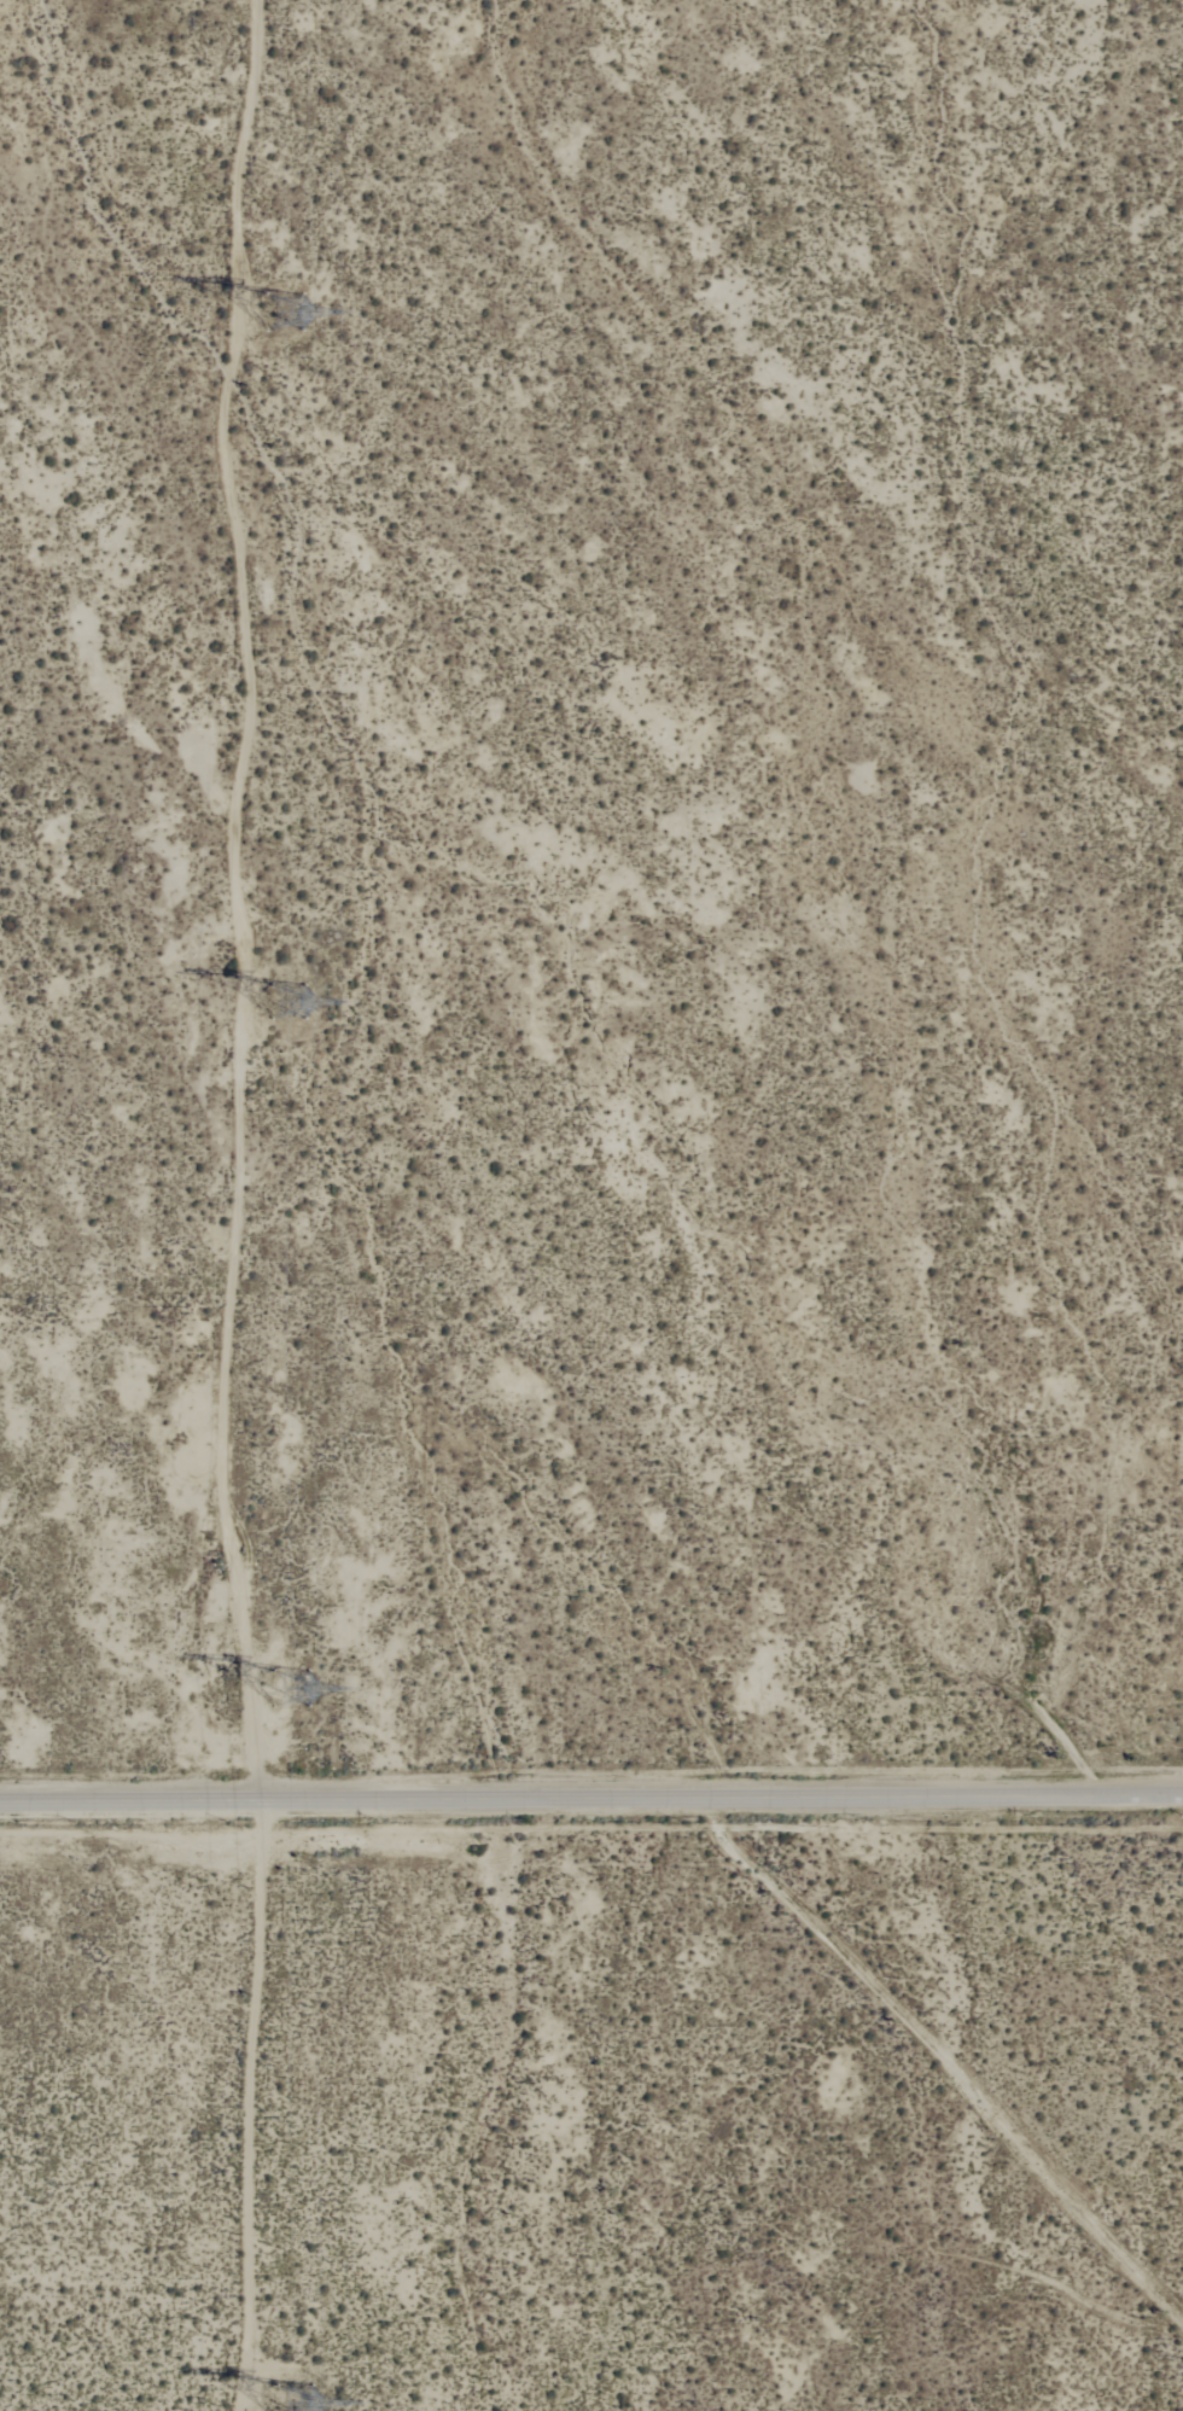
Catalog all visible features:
power tower: (281, 304)
power tower: (282, 997)
power tower: (281, 1685)
road: (591, 1800)
power tower: (281, 2393)

